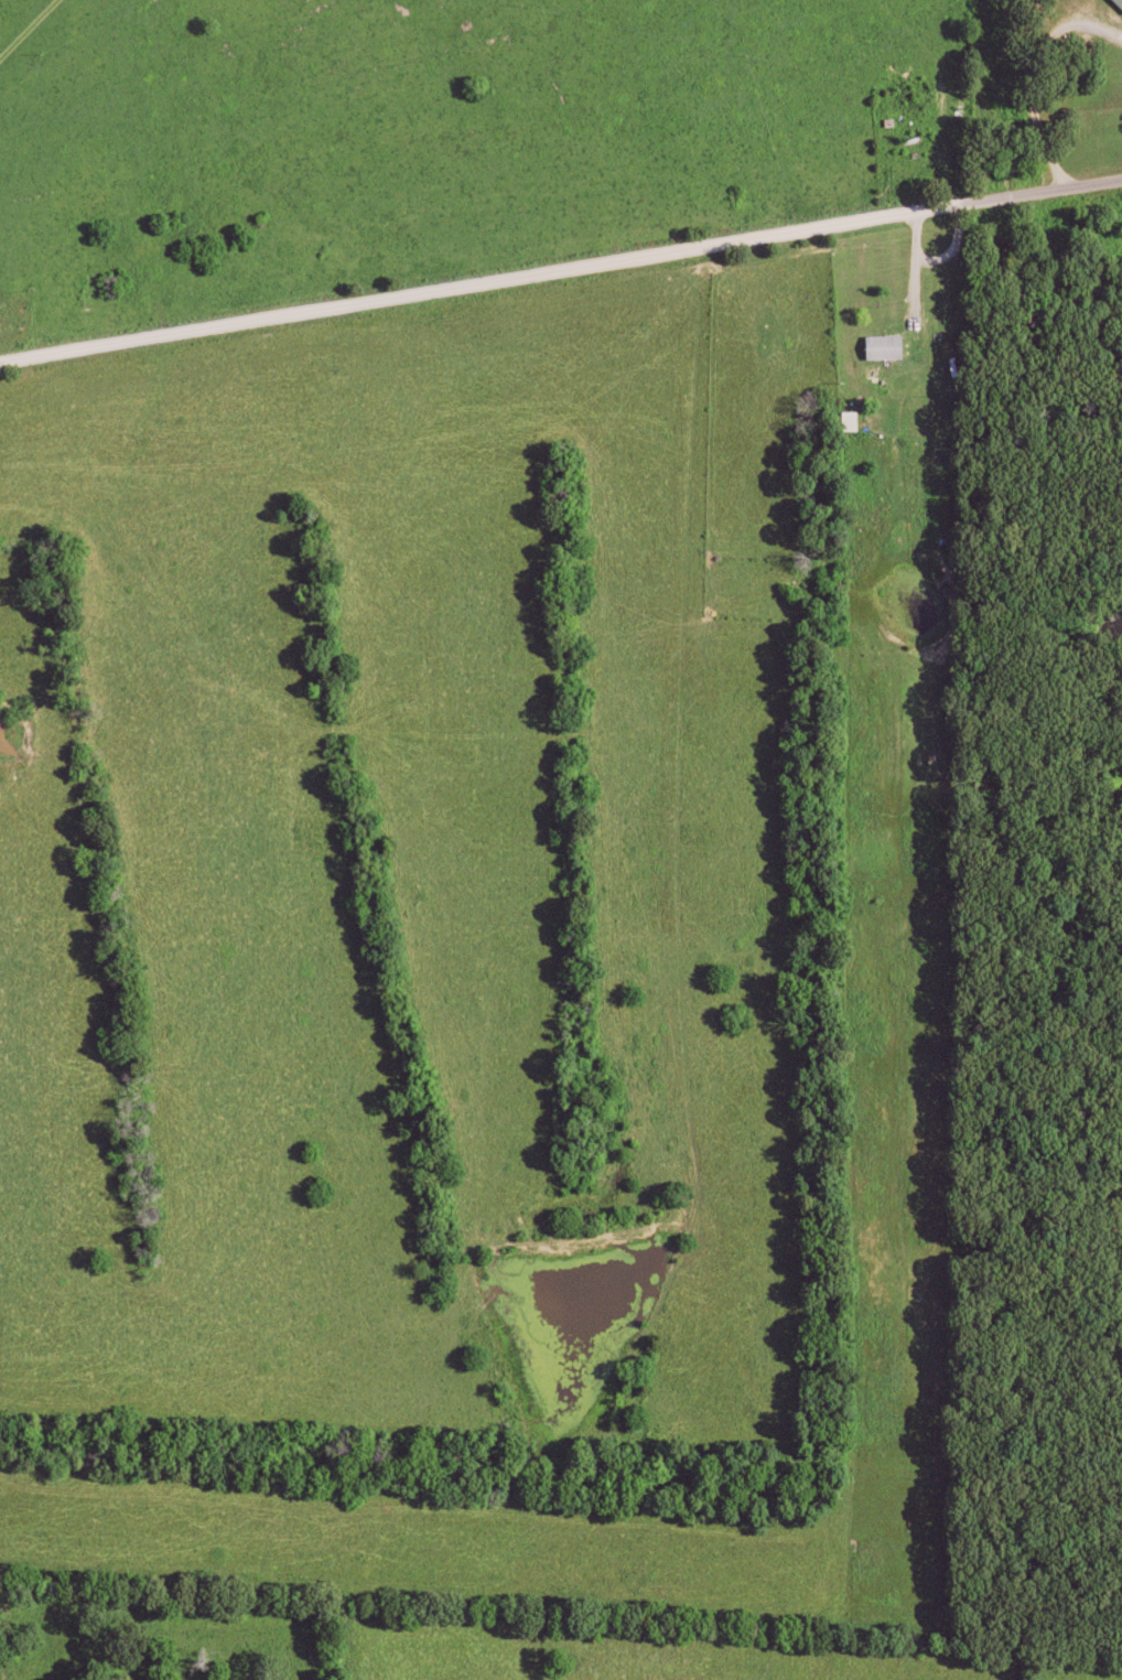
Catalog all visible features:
road: (939, 263)
road: (561, 271)
building: (0, 332)
building: (888, 346)

